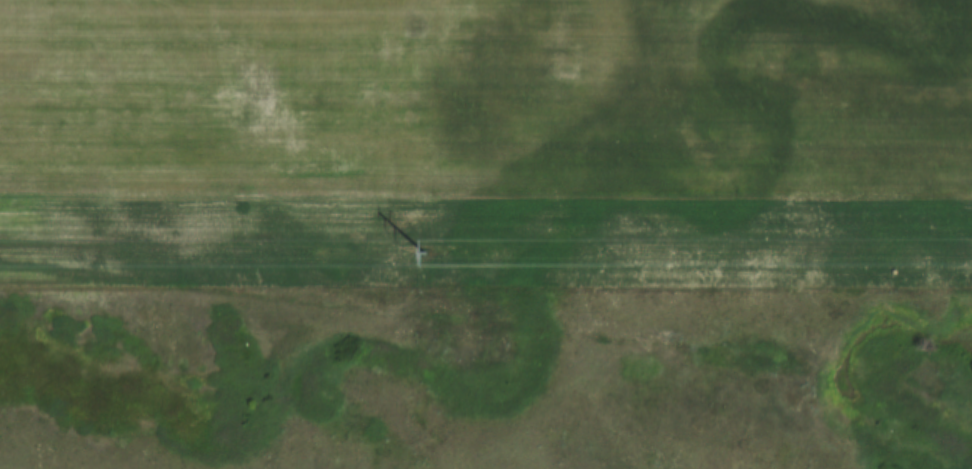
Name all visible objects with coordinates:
power tower: (425, 250)

